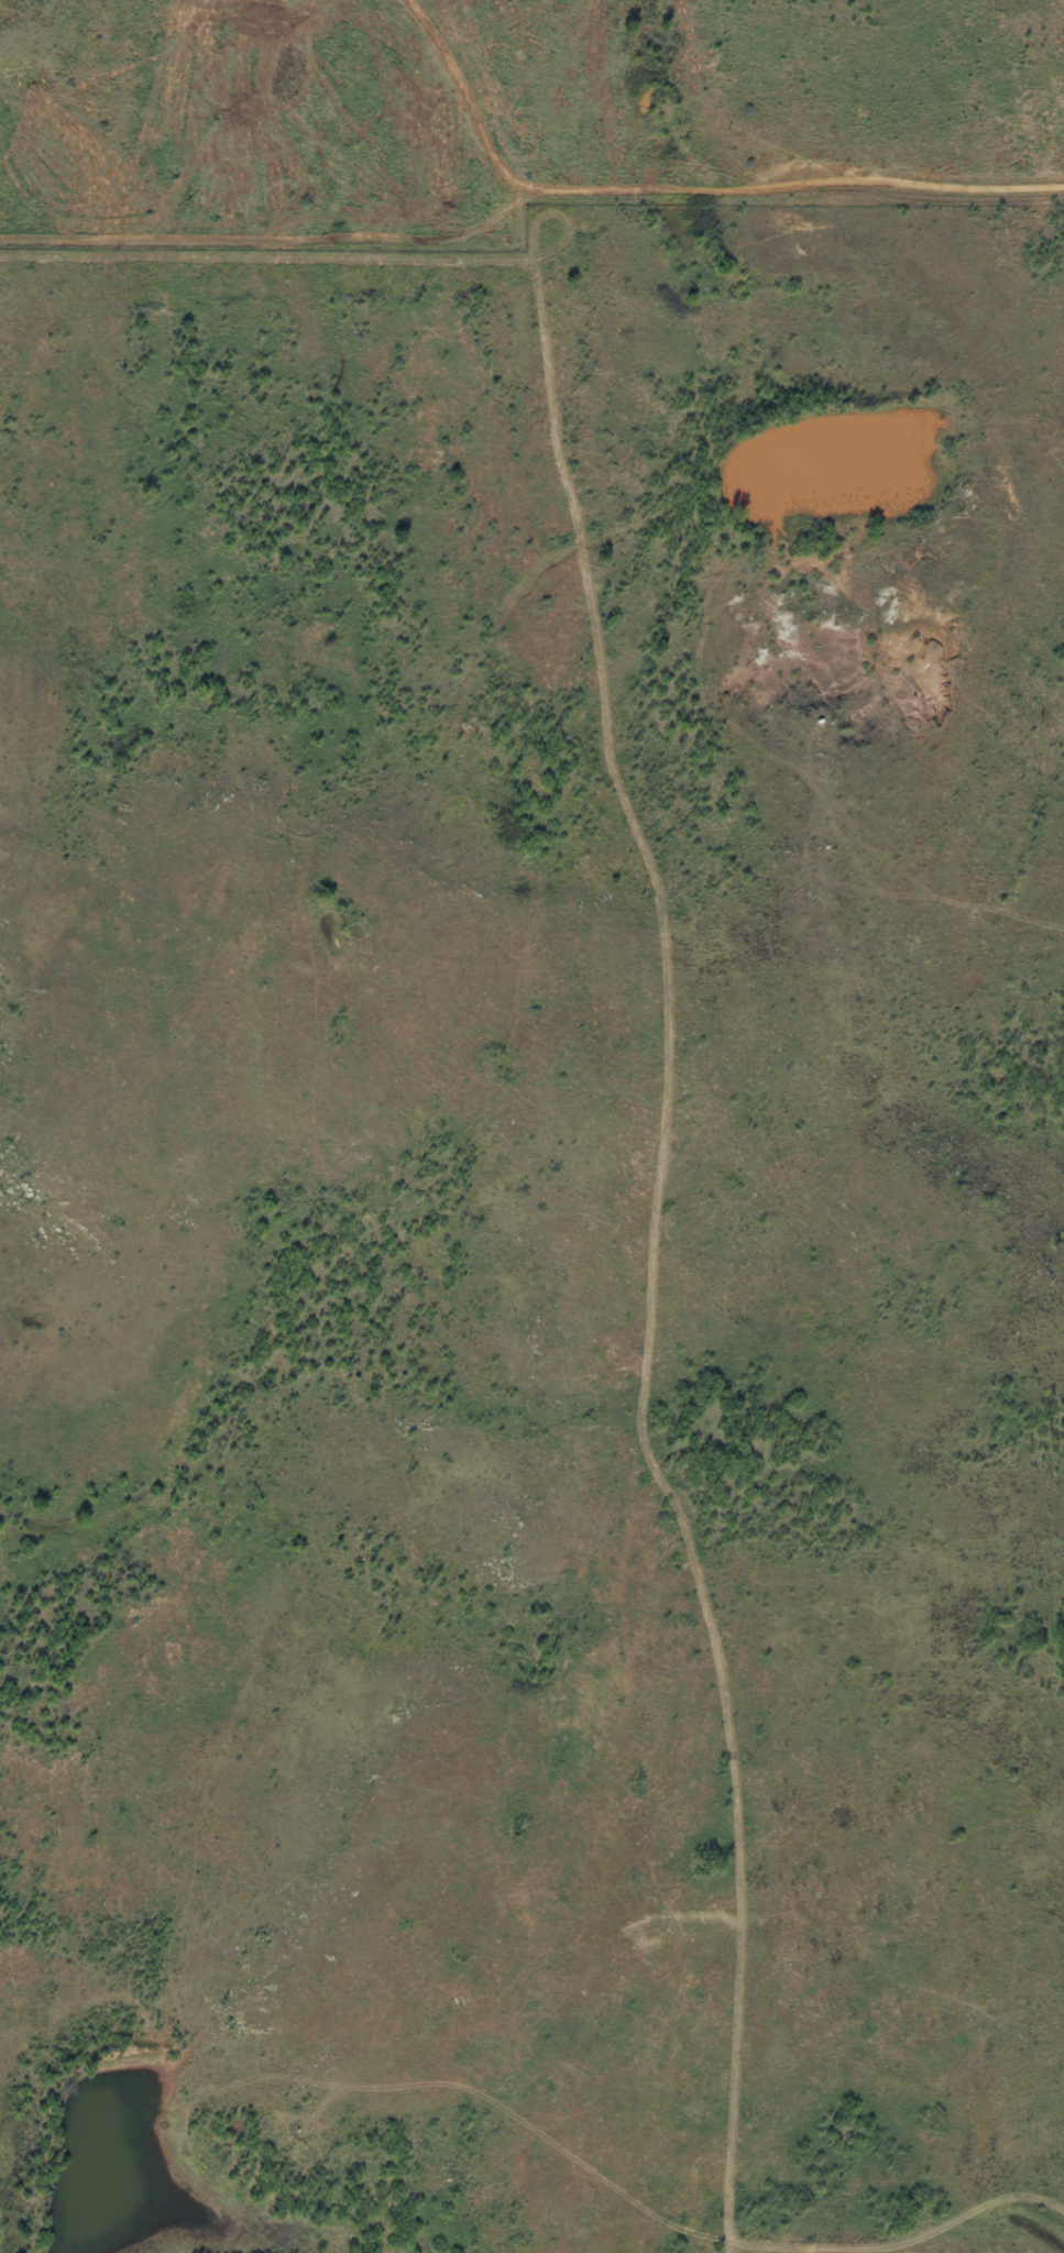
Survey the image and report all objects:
road: (711, 196)
road: (418, 2175)

